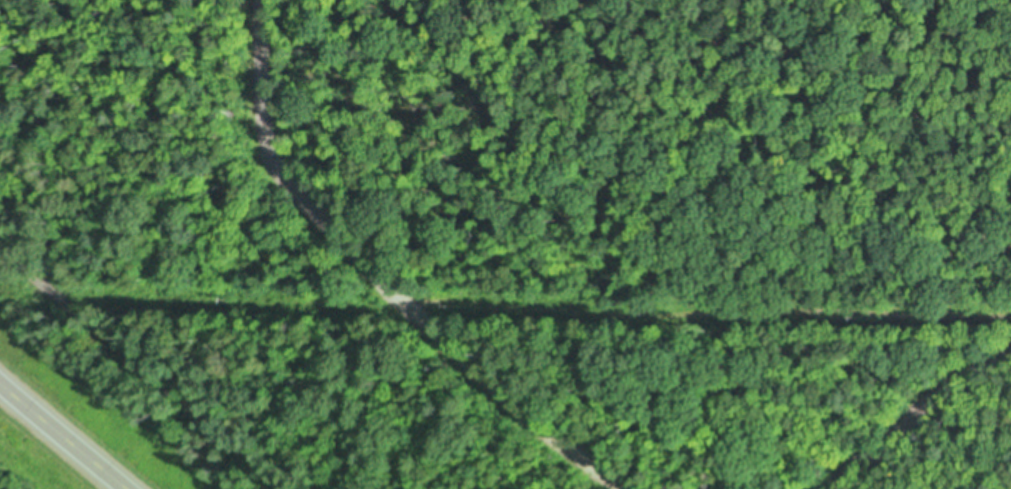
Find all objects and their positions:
road: (379, 278)
road: (145, 369)
road: (909, 411)
road: (60, 438)

